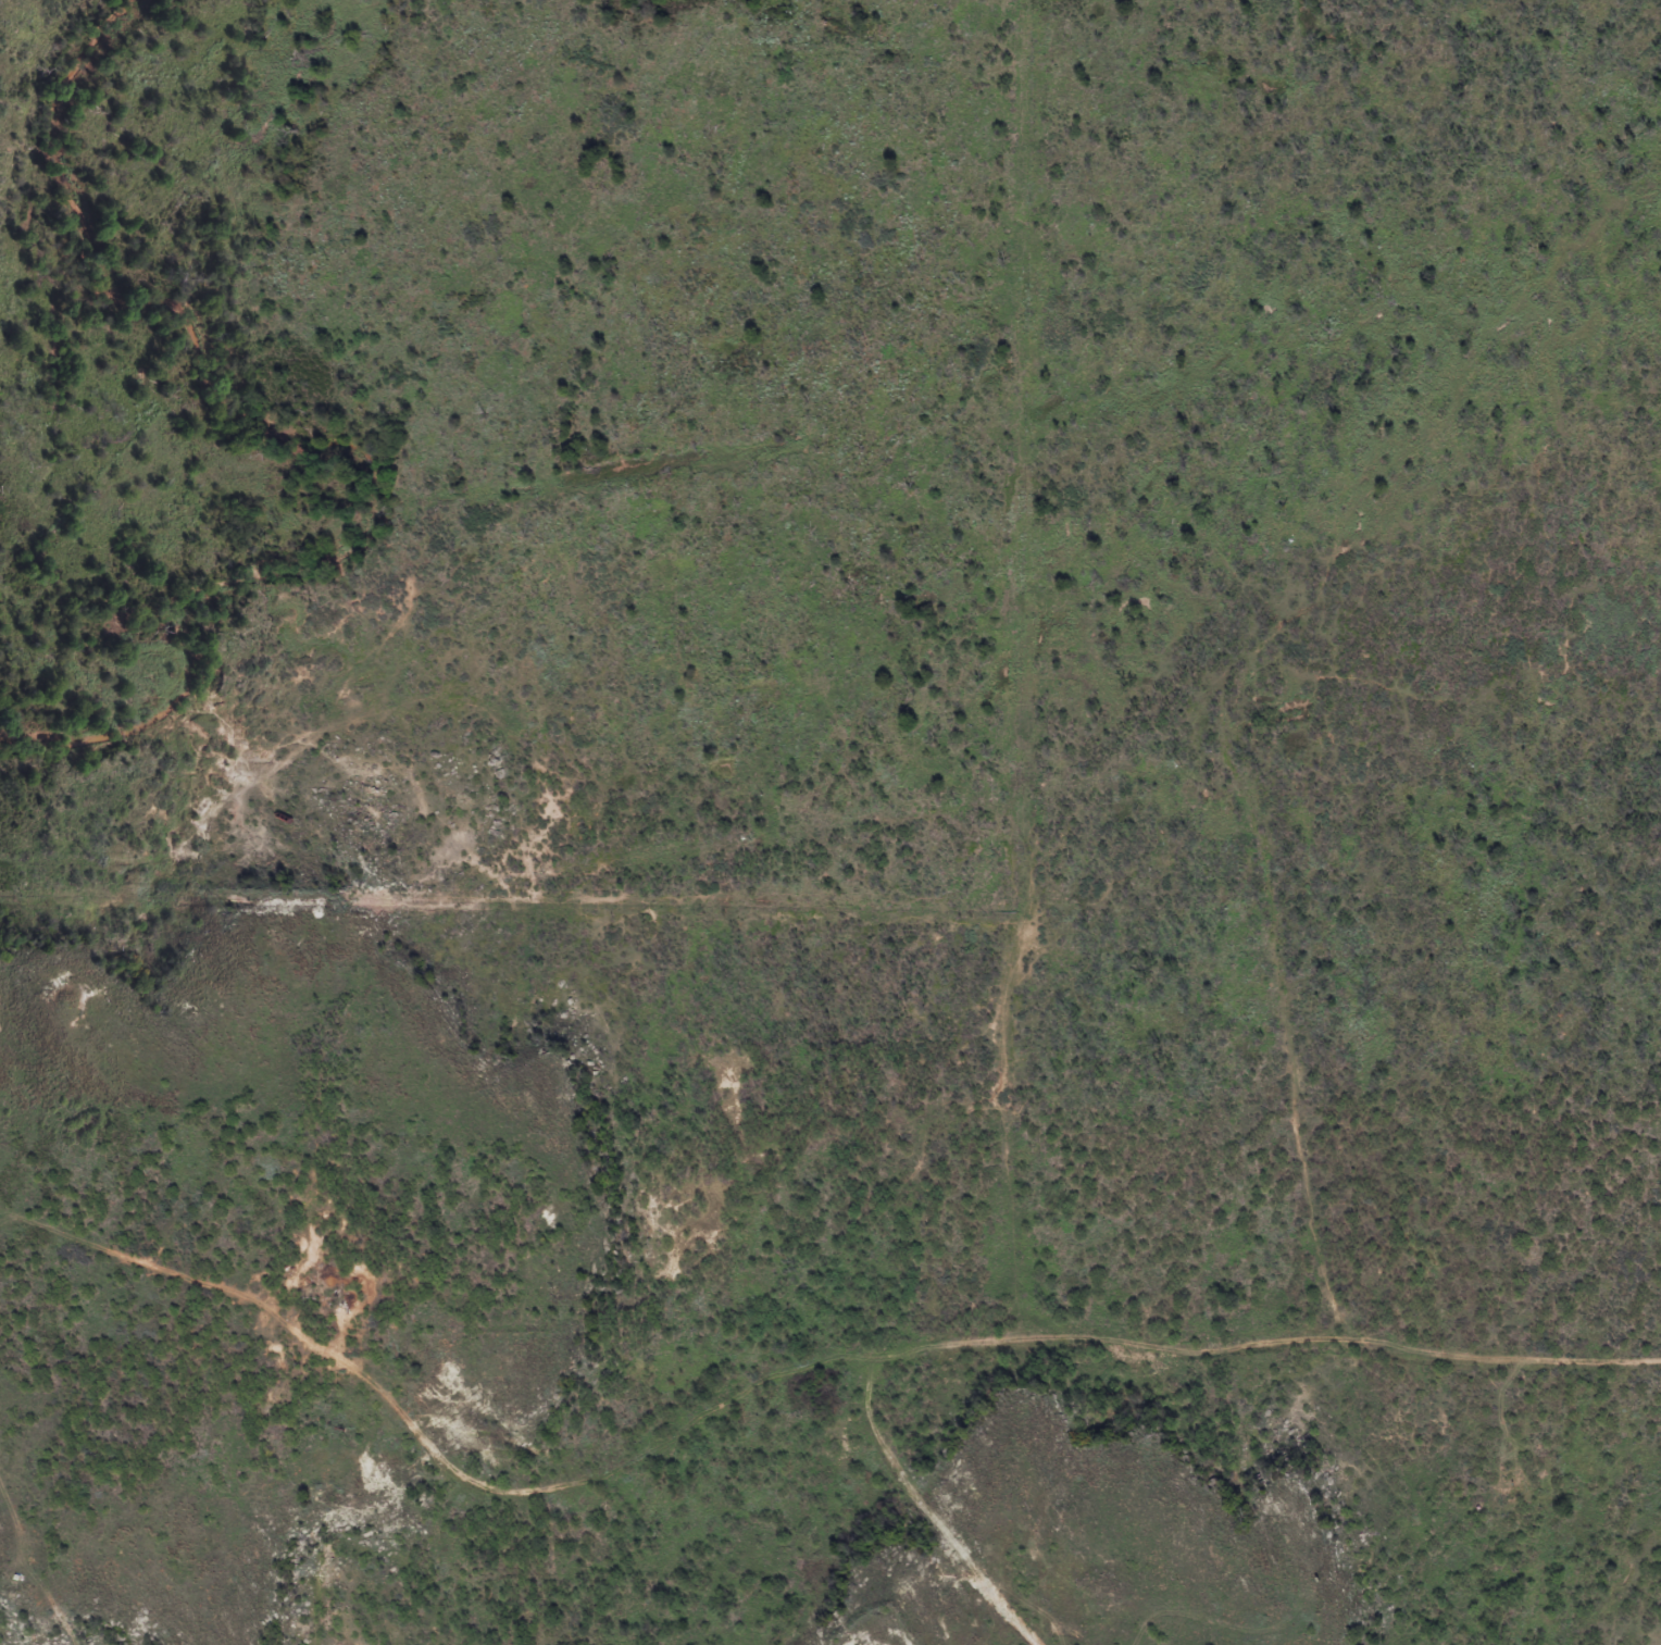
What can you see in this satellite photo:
road: (794, 1415)
road: (891, 1533)
road: (594, 1573)

